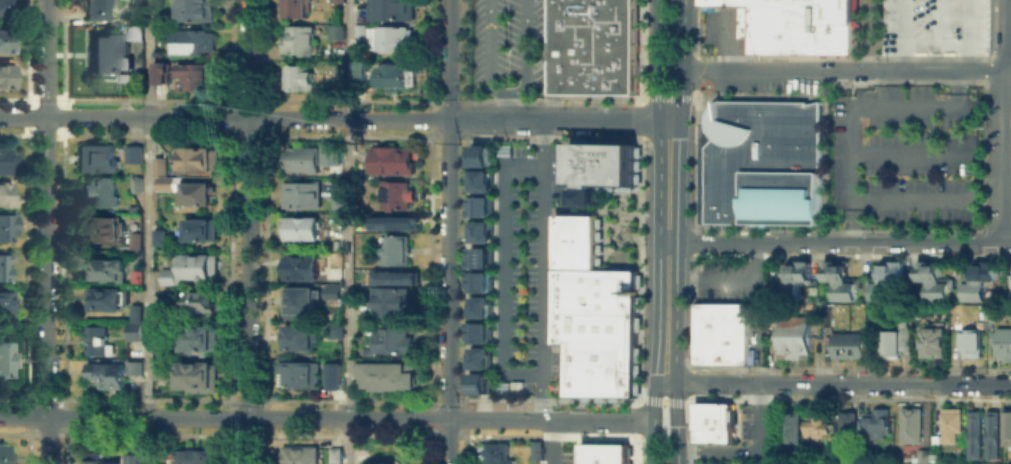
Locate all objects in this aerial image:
building: (336, 1)
building: (711, 2)
building: (7, 6)
building: (291, 8)
building: (97, 9)
building: (388, 9)
building: (194, 10)
building: (795, 24)
building: (934, 26)
parking lot: (934, 26)
building: (132, 28)
building: (332, 31)
building: (357, 32)
road: (865, 35)
road: (901, 35)
road: (968, 35)
road: (933, 36)
building: (386, 37)
building: (6, 40)
building: (190, 40)
building: (295, 40)
parking lot: (504, 46)
building: (594, 46)
building: (104, 53)
road: (548, 60)
road: (657, 61)
road: (682, 61)
building: (358, 68)
building: (159, 70)
road: (846, 70)
building: (7, 75)
building: (192, 76)
building: (394, 76)
building: (295, 78)
building: (120, 79)
road: (506, 91)
road: (852, 105)
road: (506, 106)
road: (334, 118)
road: (1005, 130)
building: (625, 149)
building: (479, 152)
building: (132, 153)
building: (331, 153)
parking lot: (905, 153)
building: (94, 157)
building: (5, 159)
building: (197, 159)
building: (300, 159)
building: (391, 159)
building: (565, 162)
building: (758, 162)
building: (625, 163)
building: (591, 169)
building: (479, 178)
building: (625, 178)
building: (134, 183)
building: (179, 184)
building: (98, 191)
building: (299, 194)
building: (395, 194)
building: (5, 195)
building: (478, 203)
building: (335, 205)
road: (604, 209)
building: (394, 219)
building: (5, 227)
building: (298, 227)
building: (576, 227)
building: (479, 228)
building: (199, 229)
building: (104, 230)
road: (347, 231)
road: (48, 232)
road: (147, 232)
road: (247, 232)
road: (447, 232)
building: (158, 237)
building: (134, 239)
road: (839, 242)
building: (395, 246)
building: (575, 247)
road: (667, 252)
building: (478, 254)
building: (575, 260)
building: (196, 265)
building: (4, 266)
building: (301, 267)
road: (502, 268)
building: (102, 269)
road: (541, 269)
building: (395, 273)
building: (135, 275)
building: (168, 275)
building: (979, 277)
building: (478, 279)
road: (727, 279)
building: (790, 279)
building: (837, 279)
building: (931, 279)
building: (883, 280)
building: (329, 290)
building: (602, 290)
building: (103, 299)
building: (198, 299)
building: (7, 302)
building: (296, 302)
building: (388, 302)
building: (478, 305)
building: (559, 305)
building: (988, 310)
building: (161, 311)
building: (134, 312)
building: (334, 329)
building: (479, 329)
building: (131, 330)
building: (720, 332)
building: (792, 335)
building: (295, 336)
building: (601, 337)
building: (198, 338)
building: (931, 339)
building: (95, 340)
building: (390, 340)
building: (889, 342)
building: (968, 342)
building: (1002, 343)
building: (846, 344)
building: (478, 356)
building: (5, 357)
building: (110, 372)
building: (158, 372)
building: (298, 373)
building: (383, 375)
building: (195, 376)
building: (333, 378)
building: (601, 379)
building: (479, 380)
road: (838, 384)
road: (664, 402)
road: (332, 418)
building: (713, 421)
building: (873, 422)
building: (846, 423)
building: (949, 423)
building: (793, 424)
building: (909, 424)
building: (815, 426)
building: (1005, 426)
building: (973, 431)
building: (992, 431)
road: (652, 440)
road: (677, 440)
road: (546, 441)
building: (495, 452)
road: (750, 452)
building: (5, 453)
building: (600, 453)
building: (299, 454)
building: (333, 455)
building: (191, 456)
building: (919, 456)
building: (95, 458)
building: (131, 458)
building: (706, 462)
building: (990, 462)
building: (376, 463)

